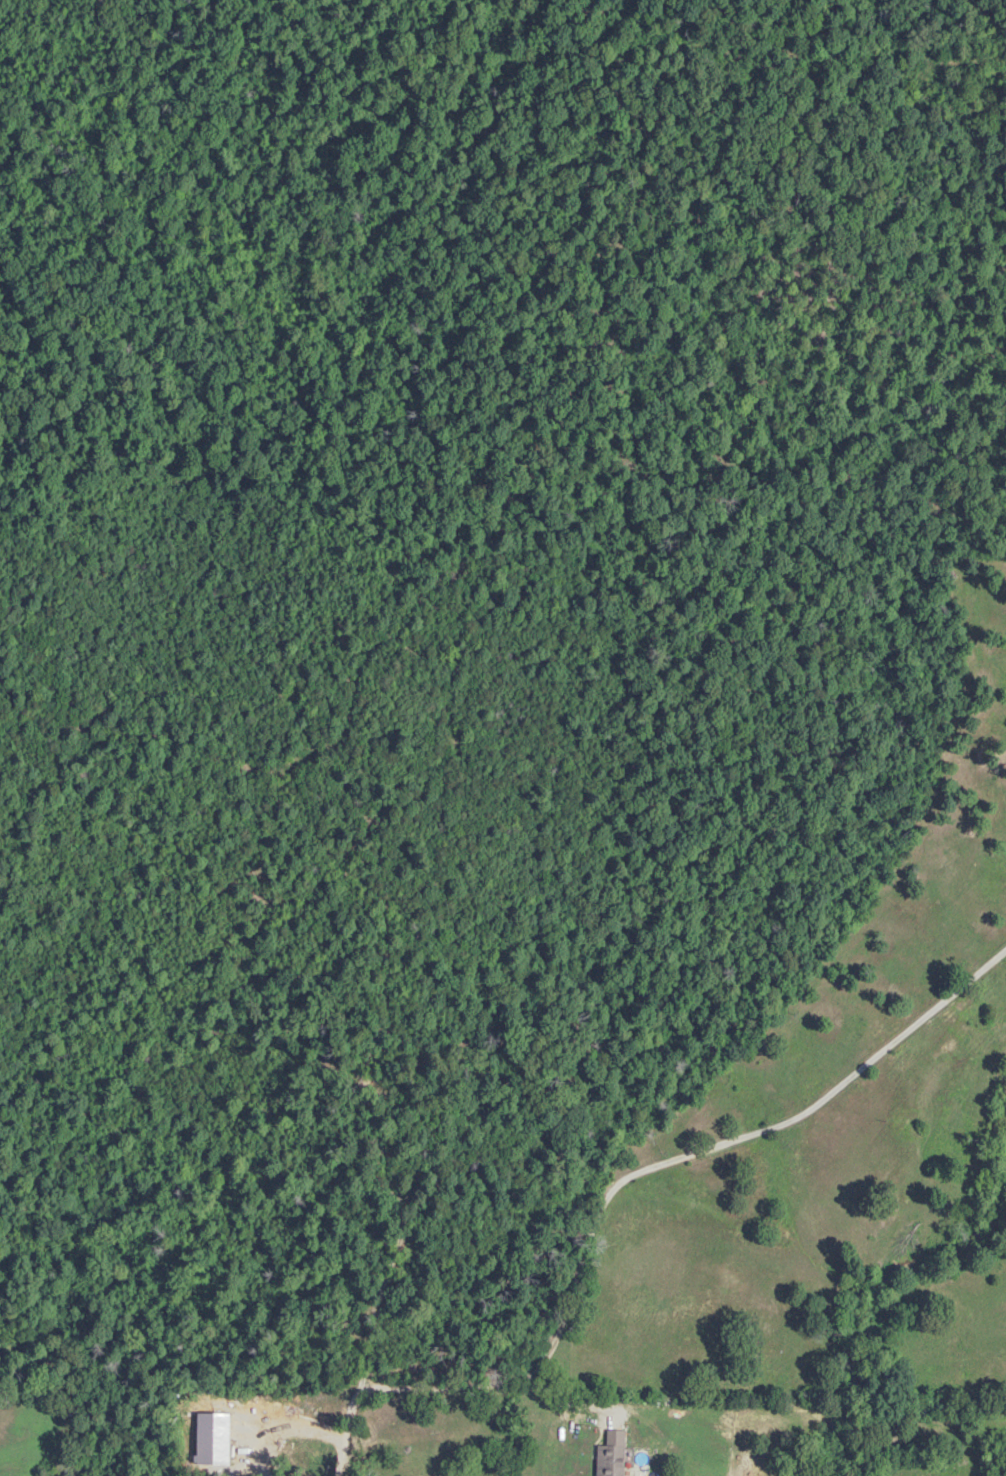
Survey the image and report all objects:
road: (405, 1)
road: (630, 15)
road: (825, 26)
road: (350, 425)
road: (511, 497)
road: (357, 690)
road: (407, 938)
road: (725, 1141)
road: (395, 1154)
road: (366, 1361)
building: (238, 1417)
building: (609, 1455)

